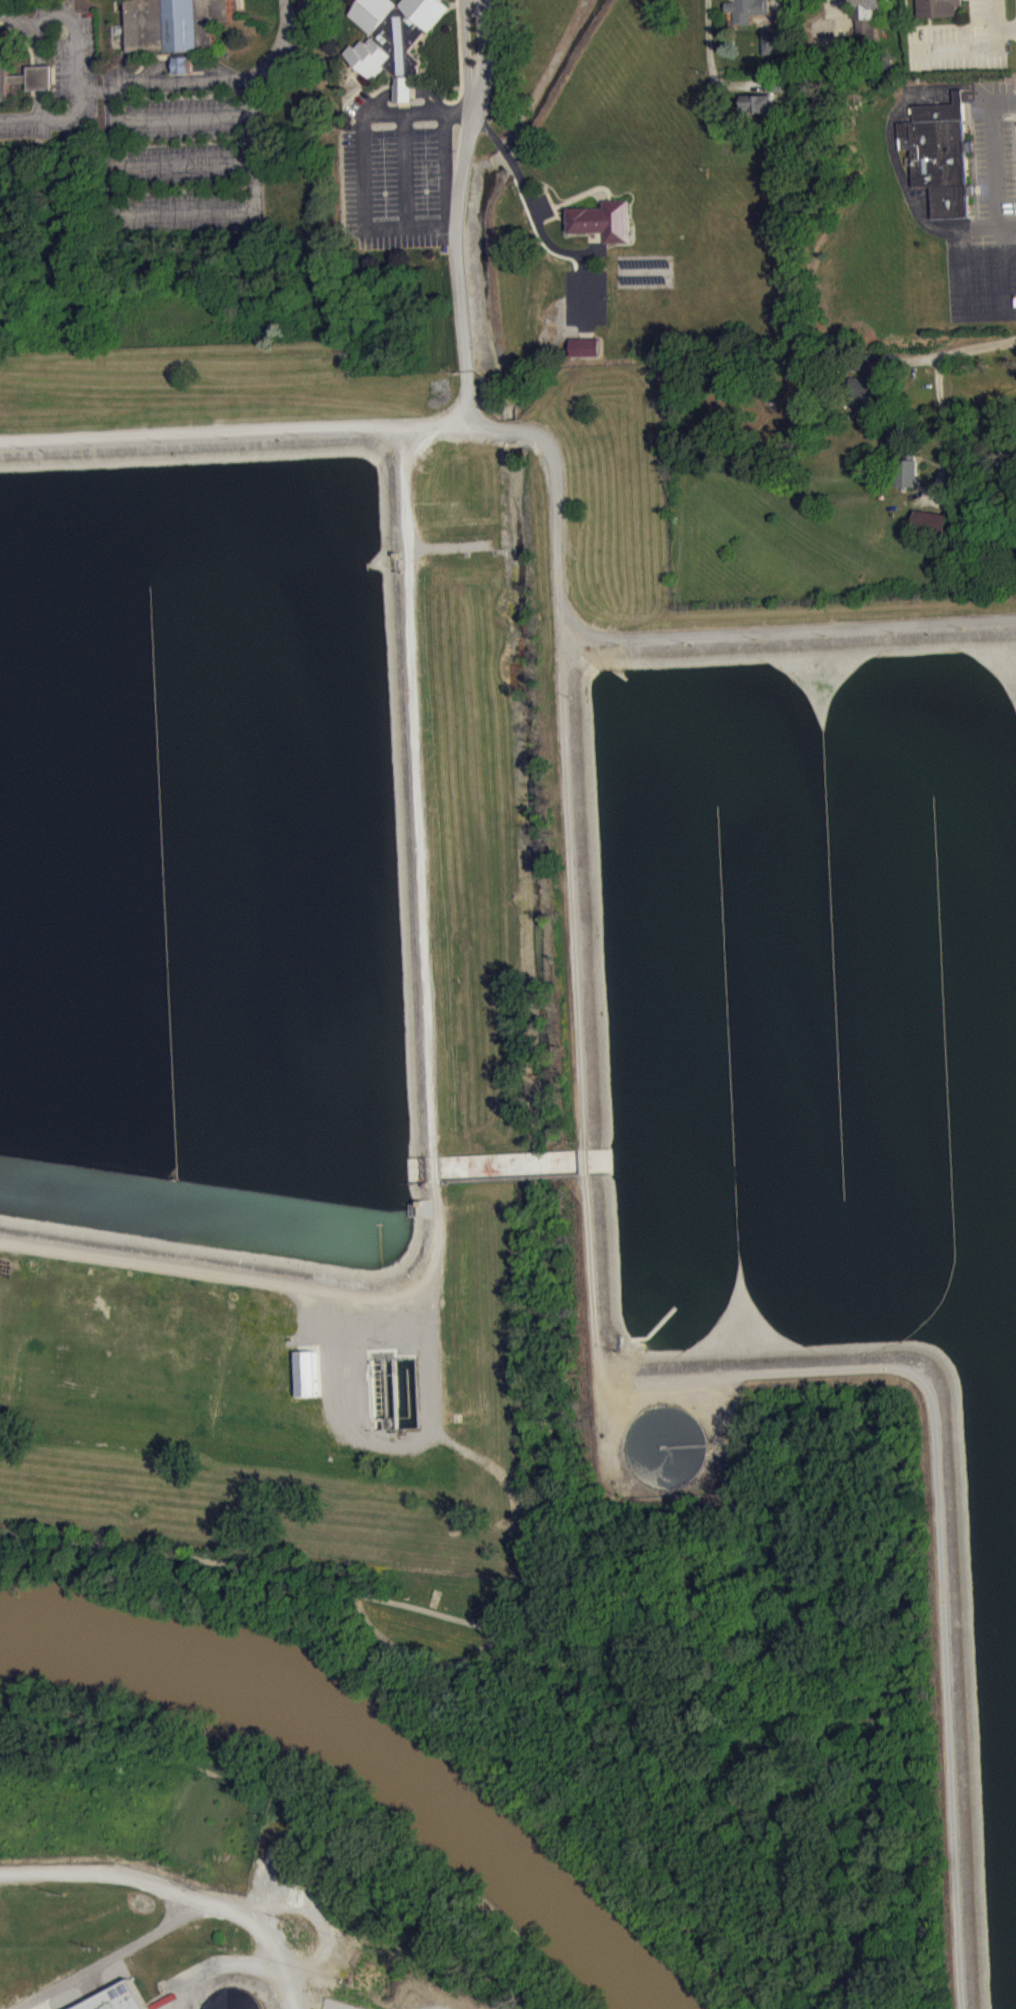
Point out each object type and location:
building: (938, 7)
building: (746, 9)
road: (283, 13)
road: (779, 13)
road: (842, 16)
building: (868, 18)
road: (300, 19)
road: (929, 20)
road: (951, 24)
building: (171, 27)
road: (1005, 27)
road: (24, 37)
building: (392, 37)
building: (774, 37)
parking lot: (962, 41)
road: (975, 47)
road: (273, 56)
road: (76, 63)
road: (184, 63)
road: (155, 68)
road: (217, 68)
road: (713, 68)
road: (42, 71)
building: (185, 71)
building: (23, 74)
road: (461, 77)
building: (780, 82)
parking lot: (61, 83)
road: (166, 83)
road: (400, 85)
road: (356, 88)
road: (374, 89)
road: (97, 91)
building: (759, 102)
road: (421, 108)
road: (891, 149)
building: (939, 153)
parking lot: (181, 155)
road: (447, 161)
road: (188, 162)
parking lot: (393, 178)
road: (526, 189)
road: (574, 196)
road: (549, 198)
road: (999, 210)
road: (142, 211)
parking lot: (987, 214)
road: (550, 218)
building: (603, 219)
road: (434, 222)
road: (386, 224)
road: (963, 274)
road: (589, 288)
parking lot: (588, 289)
building: (586, 345)
road: (944, 355)
building: (866, 379)
road: (439, 423)
road: (203, 430)
road: (944, 434)
building: (908, 469)
road: (557, 505)
building: (934, 521)
road: (580, 648)
road: (420, 792)
road: (572, 872)
road: (585, 1162)
road: (436, 1168)
wastewater plant: (489, 1220)
road: (267, 1280)
road: (421, 1307)
building: (309, 1373)
road: (436, 1428)
road: (936, 1431)
road: (522, 1644)
river: (370, 1743)
building: (115, 1998)
building: (340, 2004)
power substation: (340, 2004)

